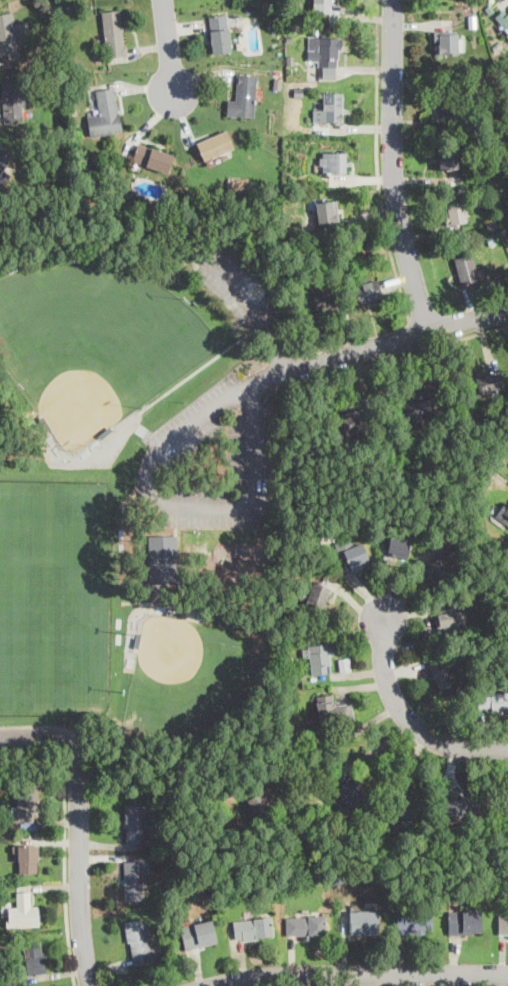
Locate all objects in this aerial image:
building: (322, 5)
building: (503, 18)
building: (12, 27)
building: (113, 32)
building: (507, 32)
building: (219, 33)
building: (449, 41)
road: (168, 44)
building: (326, 55)
building: (244, 93)
building: (15, 100)
building: (451, 100)
building: (332, 107)
building: (105, 112)
building: (215, 144)
building: (152, 156)
building: (5, 157)
building: (447, 157)
road: (377, 161)
building: (332, 162)
road: (393, 165)
building: (239, 183)
building: (327, 211)
building: (455, 212)
road: (106, 234)
building: (467, 267)
parking lot: (240, 287)
building: (369, 289)
building: (325, 300)
road: (393, 336)
park: (95, 340)
road: (274, 350)
road: (395, 357)
road: (196, 370)
building: (489, 381)
building: (418, 404)
building: (356, 421)
parking lot: (213, 459)
park: (139, 484)
road: (166, 503)
building: (503, 512)
building: (399, 544)
building: (352, 552)
building: (163, 558)
building: (440, 569)
road: (167, 584)
park: (56, 594)
building: (315, 594)
road: (151, 605)
building: (451, 619)
building: (319, 656)
building: (442, 671)
park: (191, 675)
building: (492, 701)
building: (333, 708)
road: (410, 719)
road: (51, 730)
road: (347, 734)
parking lot: (1, 753)
building: (352, 793)
building: (260, 802)
building: (25, 805)
building: (460, 805)
building: (404, 808)
building: (135, 822)
building: (27, 857)
road: (64, 866)
road: (79, 876)
building: (134, 879)
building: (23, 911)
building: (465, 920)
building: (413, 922)
building: (362, 923)
building: (506, 923)
building: (305, 924)
building: (253, 927)
building: (198, 933)
building: (138, 940)
building: (34, 957)
road: (357, 970)

